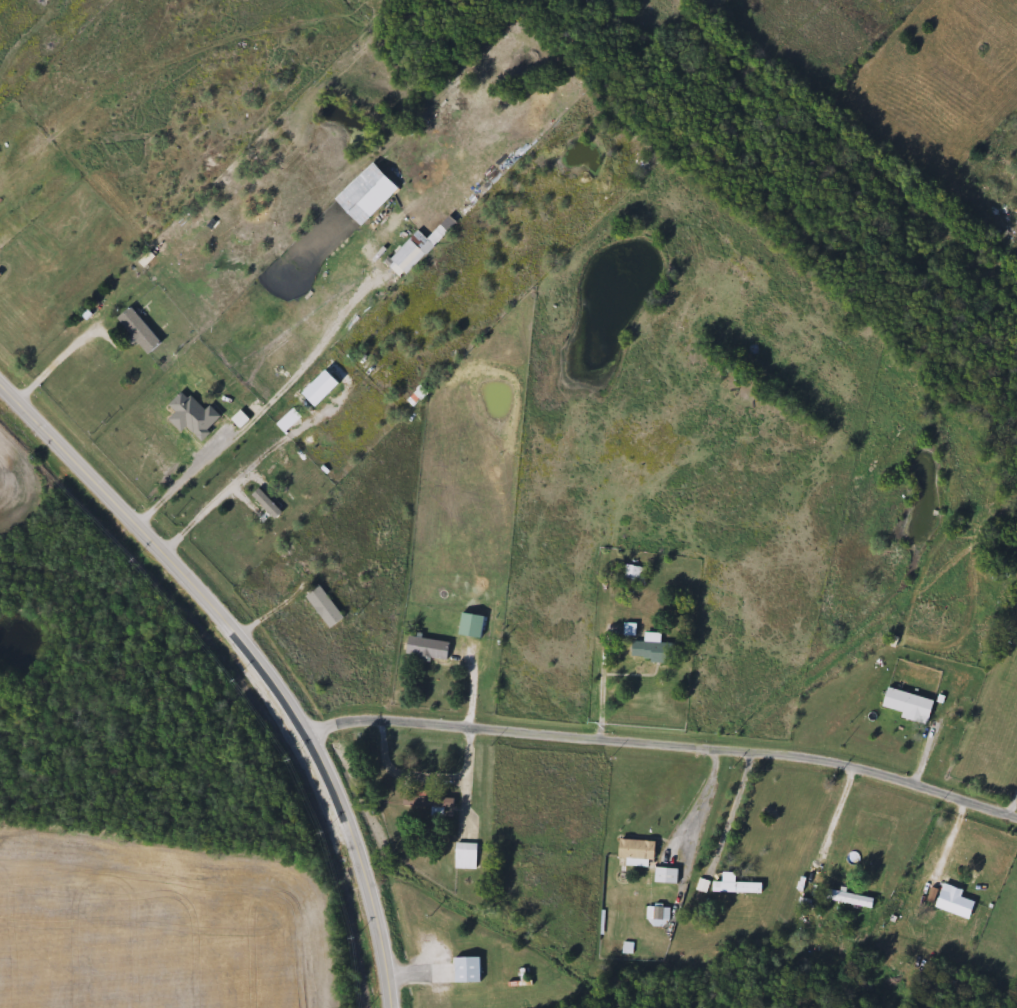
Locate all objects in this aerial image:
building: (411, 253)
building: (139, 331)
road: (57, 363)
building: (732, 378)
building: (204, 407)
road: (179, 477)
road: (216, 493)
building: (633, 575)
building: (325, 607)
road: (606, 624)
building: (471, 625)
building: (427, 649)
building: (653, 649)
road: (257, 657)
building: (908, 705)
road: (470, 745)
road: (664, 747)
road: (405, 774)
road: (698, 801)
building: (432, 805)
road: (1012, 807)
road: (732, 811)
road: (832, 828)
building: (635, 851)
building: (466, 856)
building: (666, 876)
building: (736, 888)
building: (851, 899)
building: (955, 903)
building: (467, 970)

